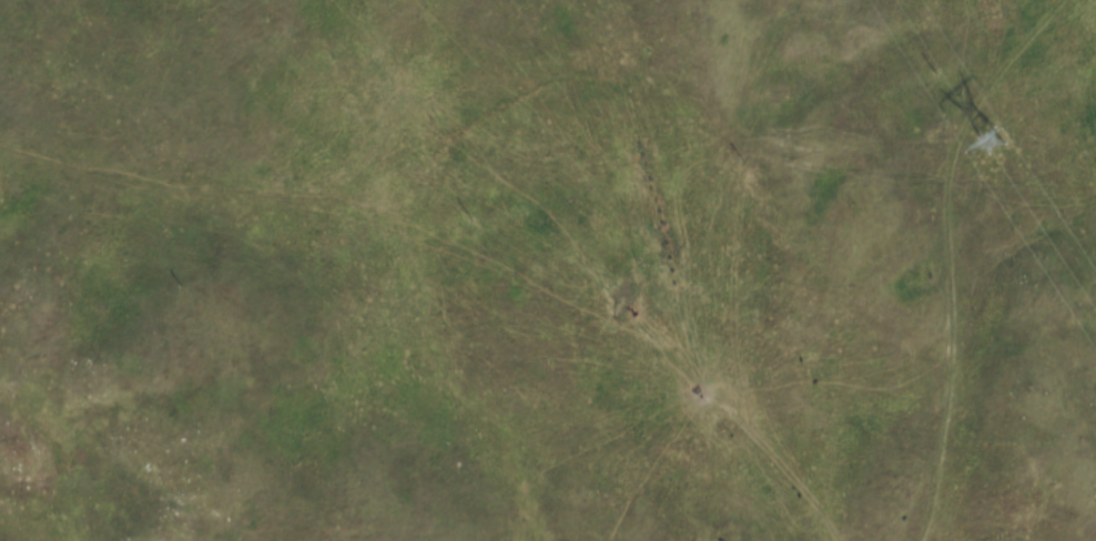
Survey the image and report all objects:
power tower: (985, 147)

